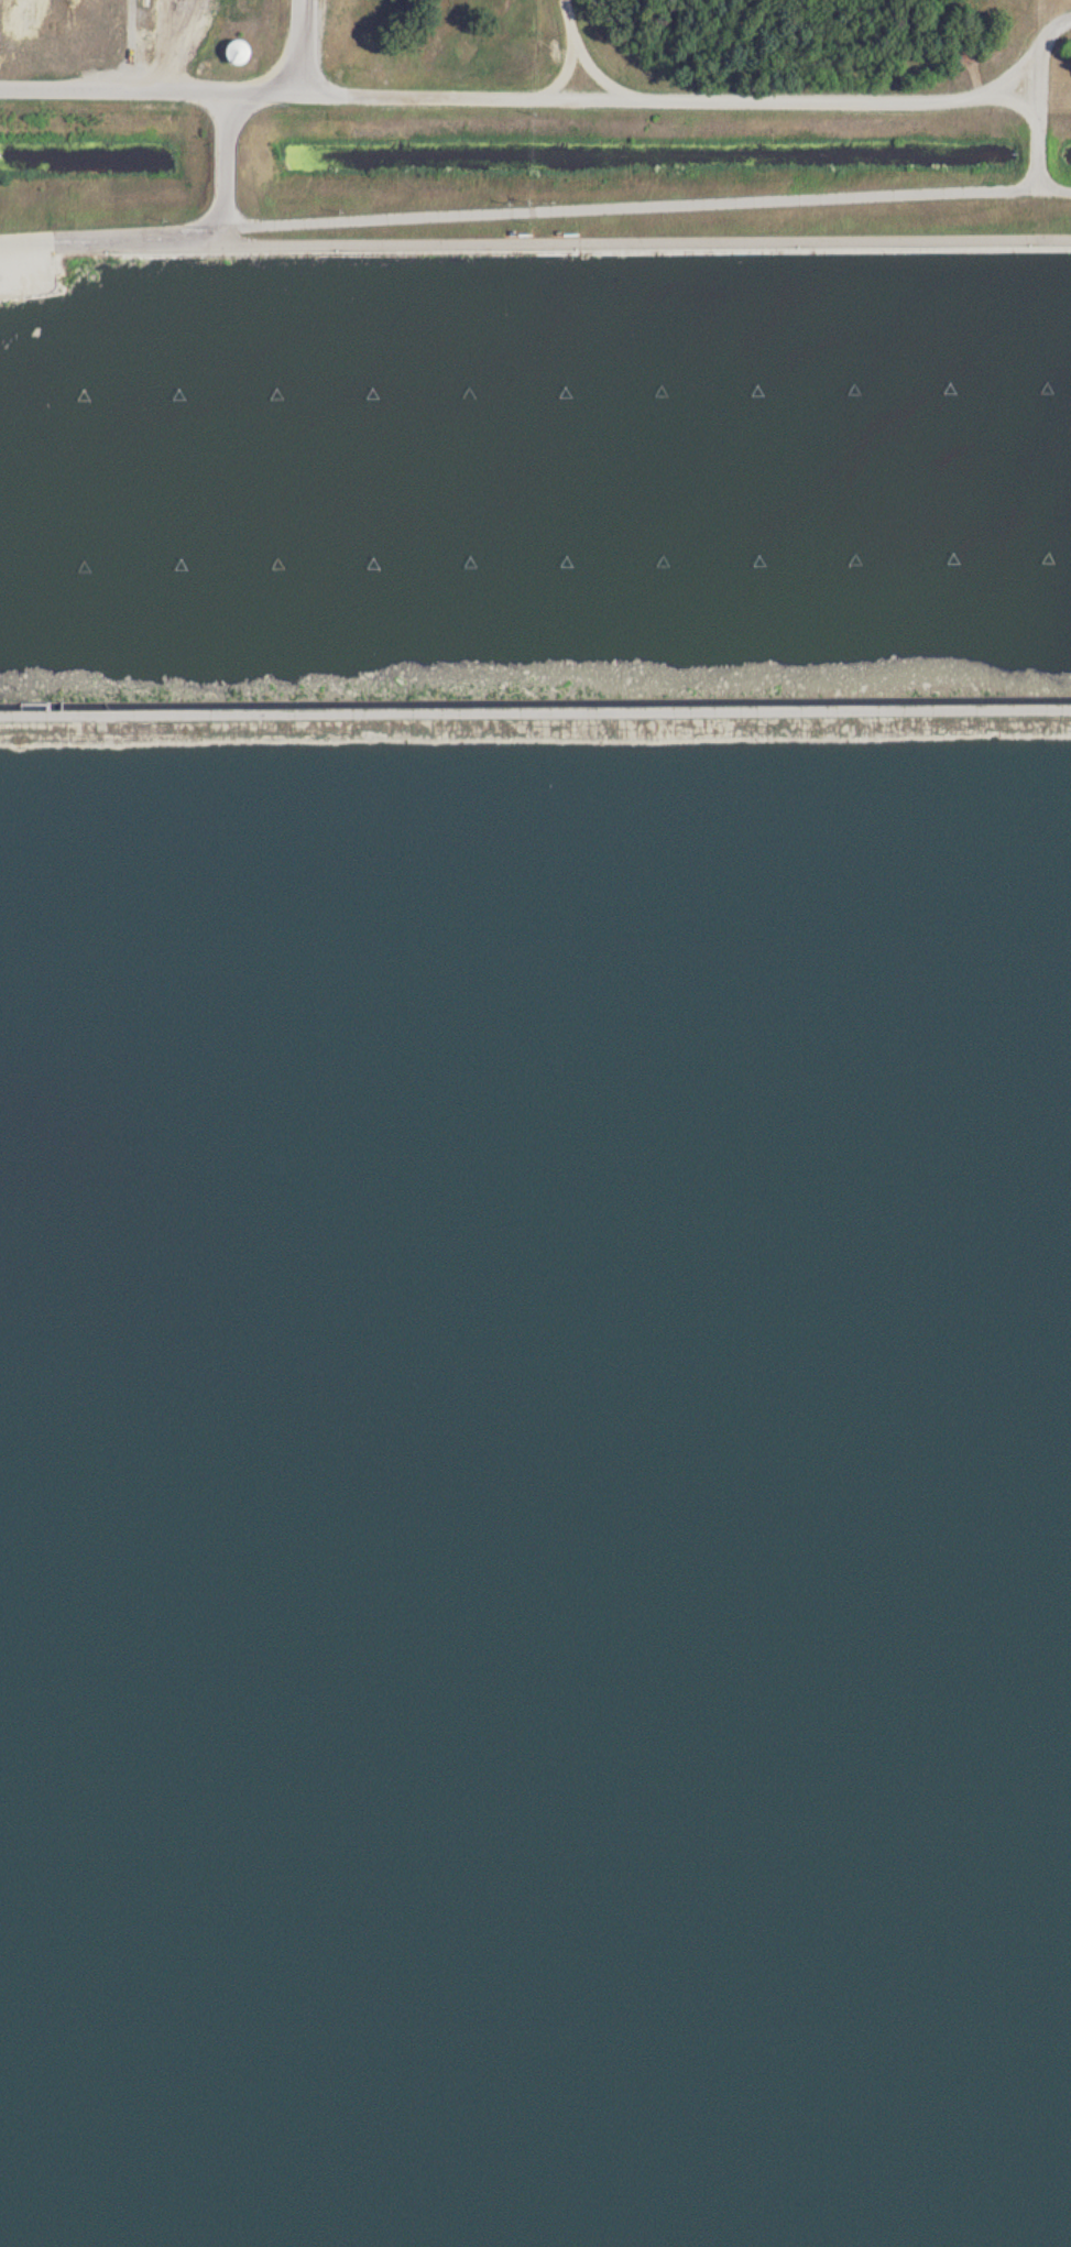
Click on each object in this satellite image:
road: (307, 46)
building: (245, 51)
road: (321, 92)
road: (806, 97)
wastewater plant: (535, 1123)

